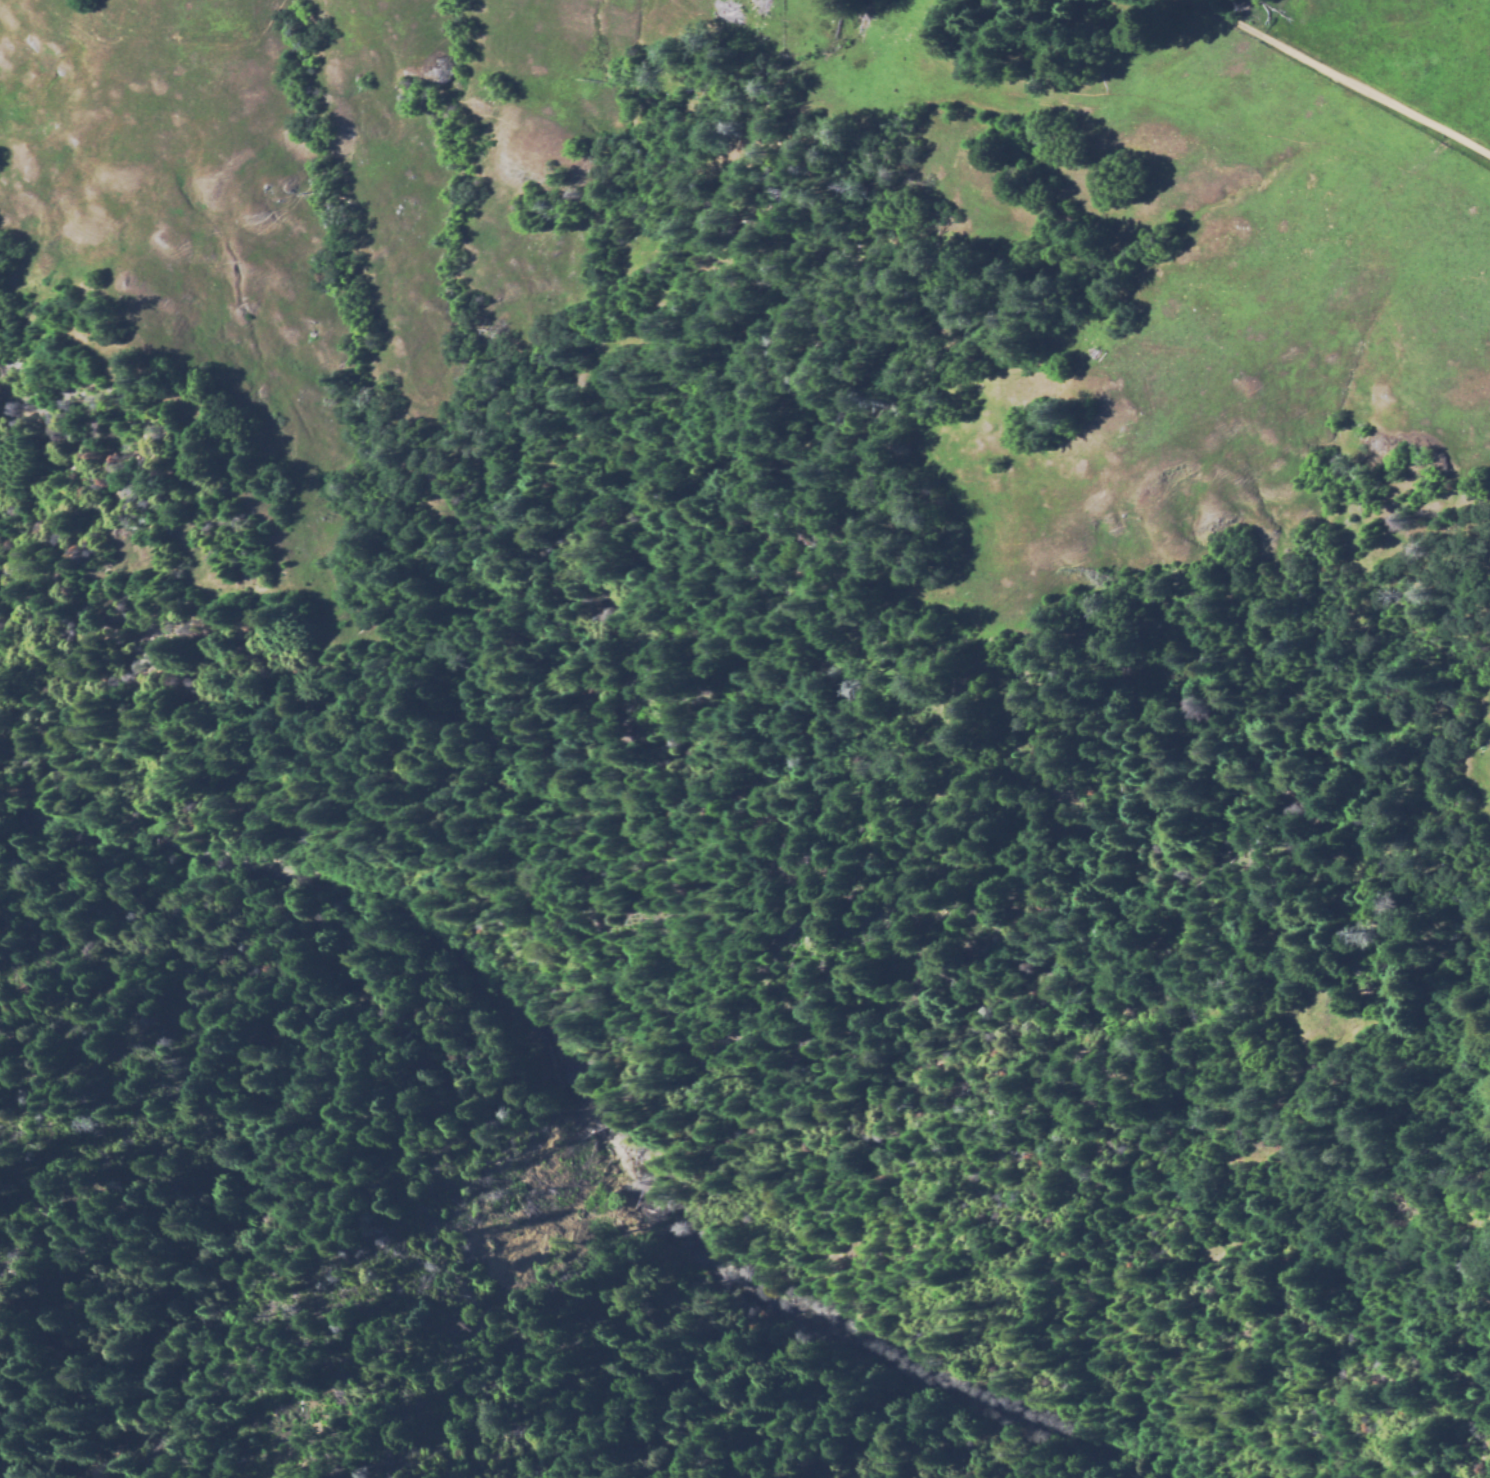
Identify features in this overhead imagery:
road: (1178, 18)
road: (1356, 99)
road: (944, 129)

